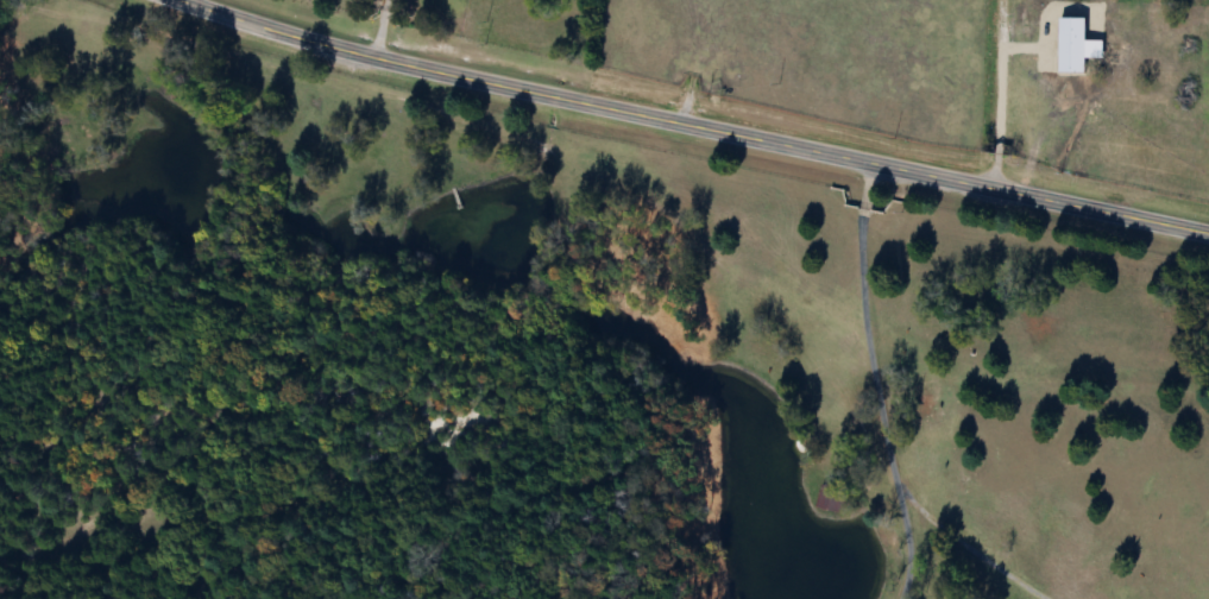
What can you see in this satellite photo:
road: (379, 26)
road: (996, 92)
road: (703, 122)
road: (882, 415)
building: (826, 500)
road: (908, 542)

